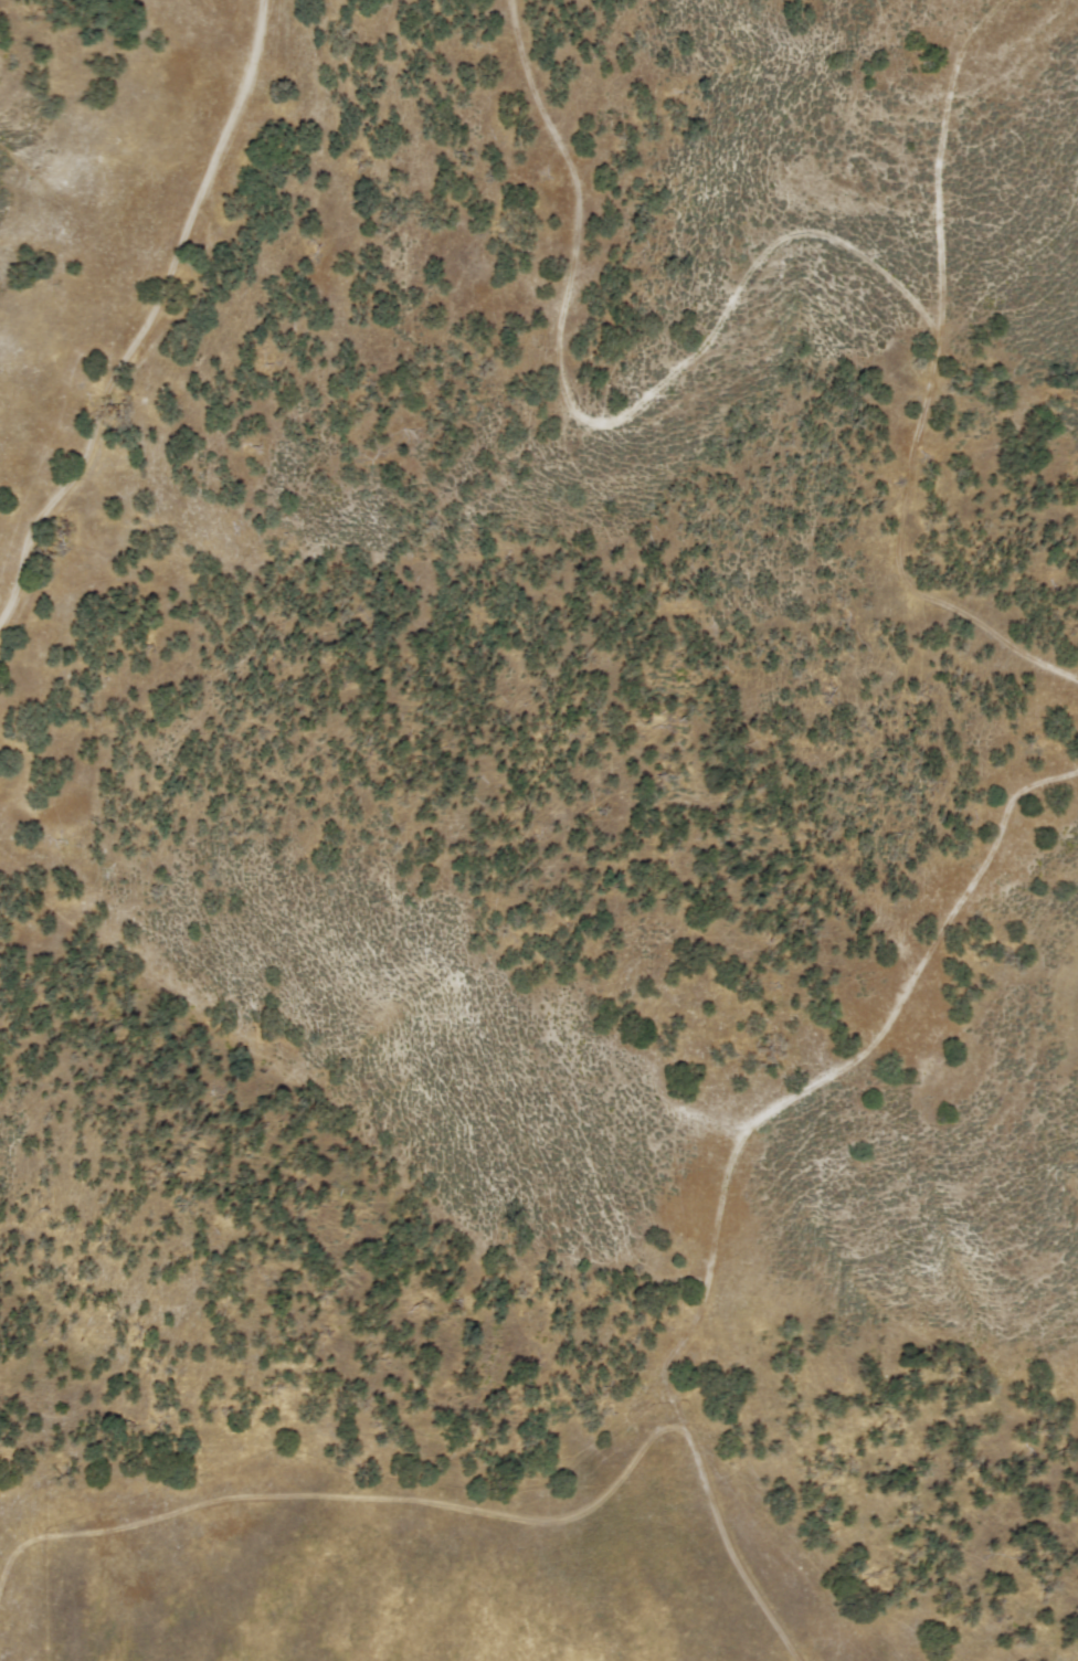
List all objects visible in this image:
road: (941, 159)
road: (753, 266)
road: (142, 322)
road: (731, 1162)

